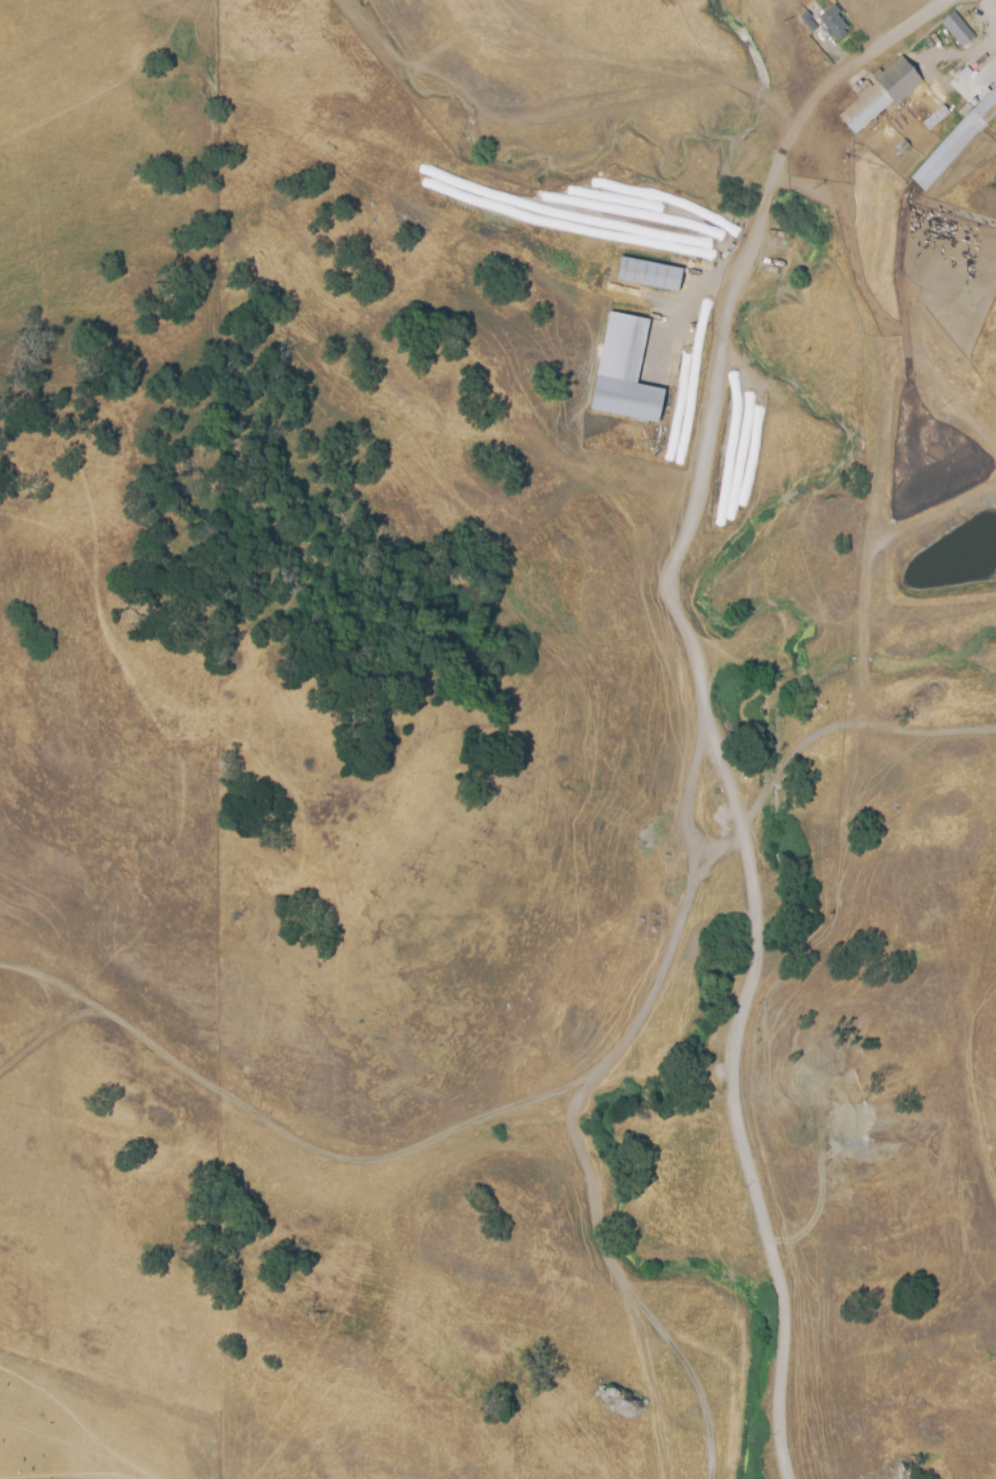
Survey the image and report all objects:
road: (990, 4)
building: (809, 22)
building: (834, 22)
building: (959, 30)
building: (881, 95)
building: (934, 117)
building: (956, 142)
building: (650, 275)
building: (629, 371)
road: (707, 701)
road: (843, 725)
road: (685, 799)
road: (418, 1149)

